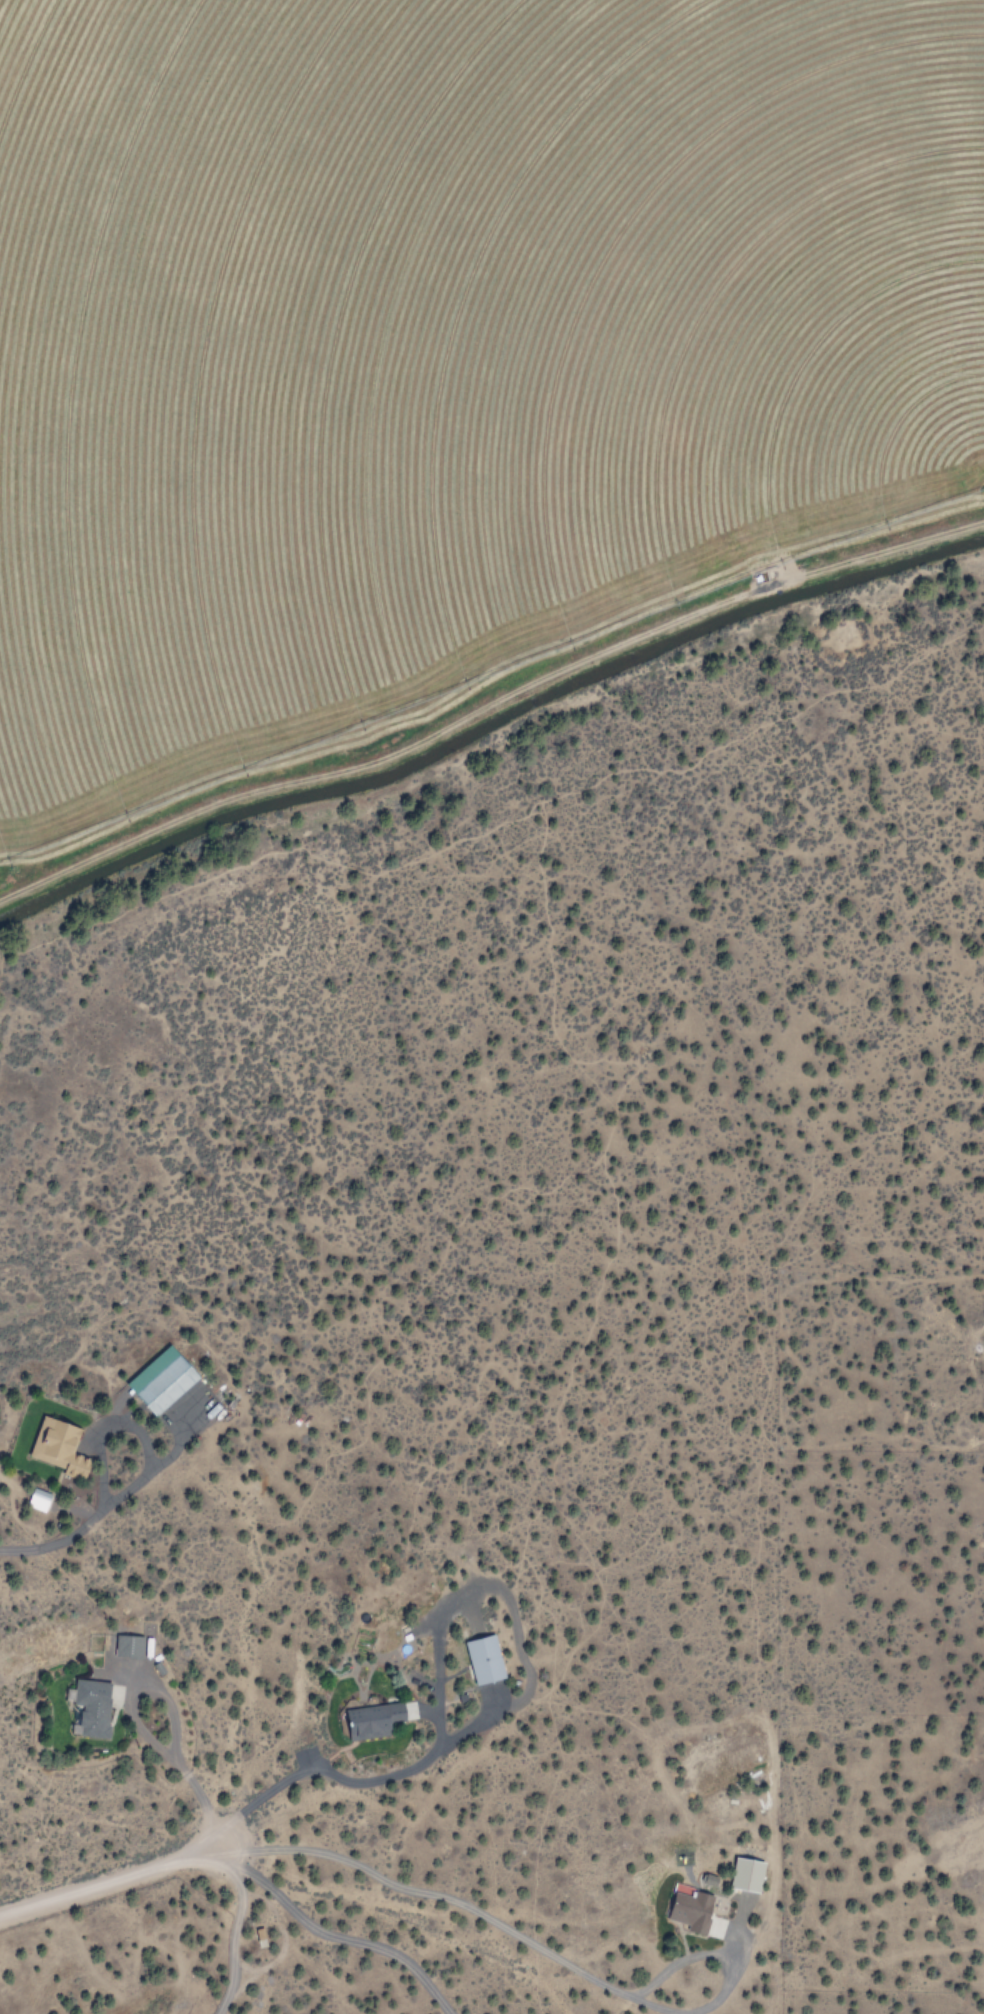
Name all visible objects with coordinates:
road: (488, 703)
building: (165, 1379)
building: (63, 1450)
building: (131, 1646)
building: (487, 1659)
building: (93, 1712)
building: (379, 1717)
building: (750, 1874)
road: (112, 1875)
road: (455, 1902)
road: (337, 1938)
road: (731, 1997)

